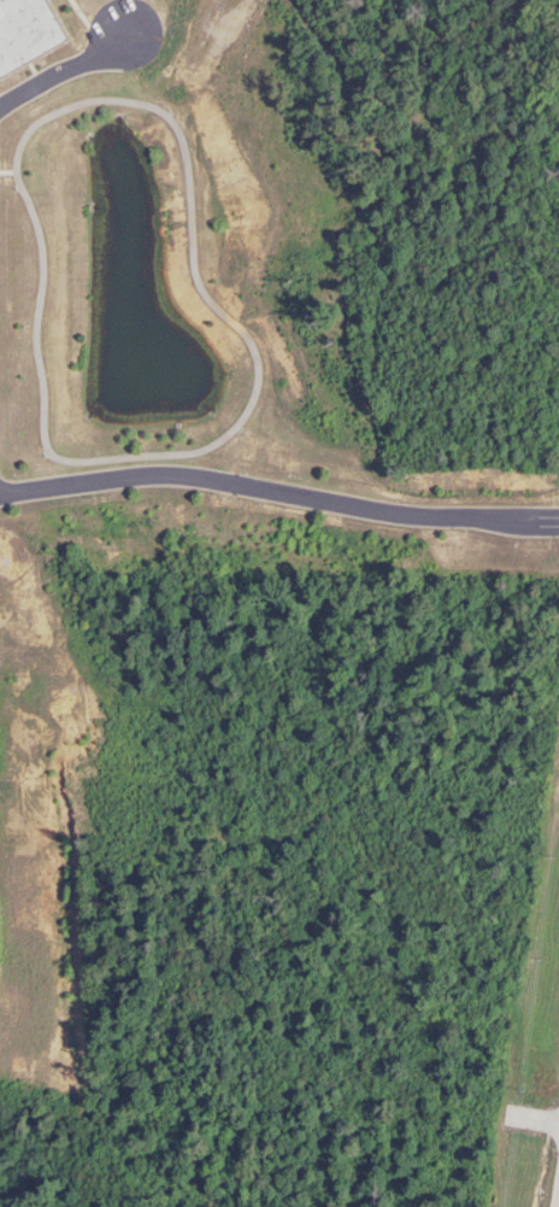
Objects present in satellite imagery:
road: (65, 70)
road: (6, 171)
road: (246, 404)
road: (278, 492)

